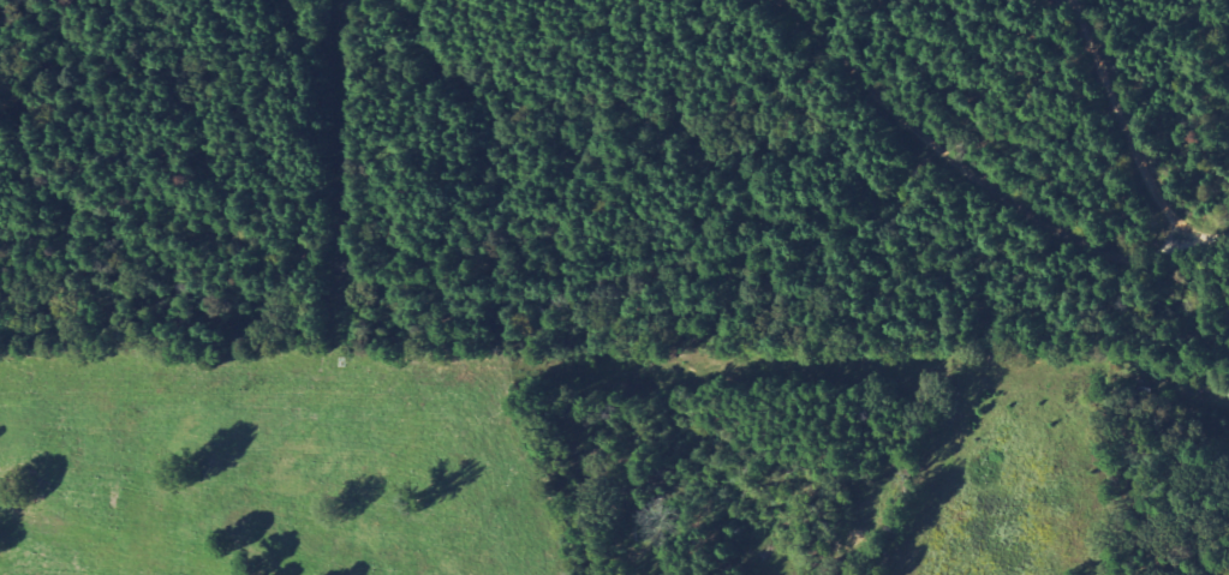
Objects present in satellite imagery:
road: (968, 182)

